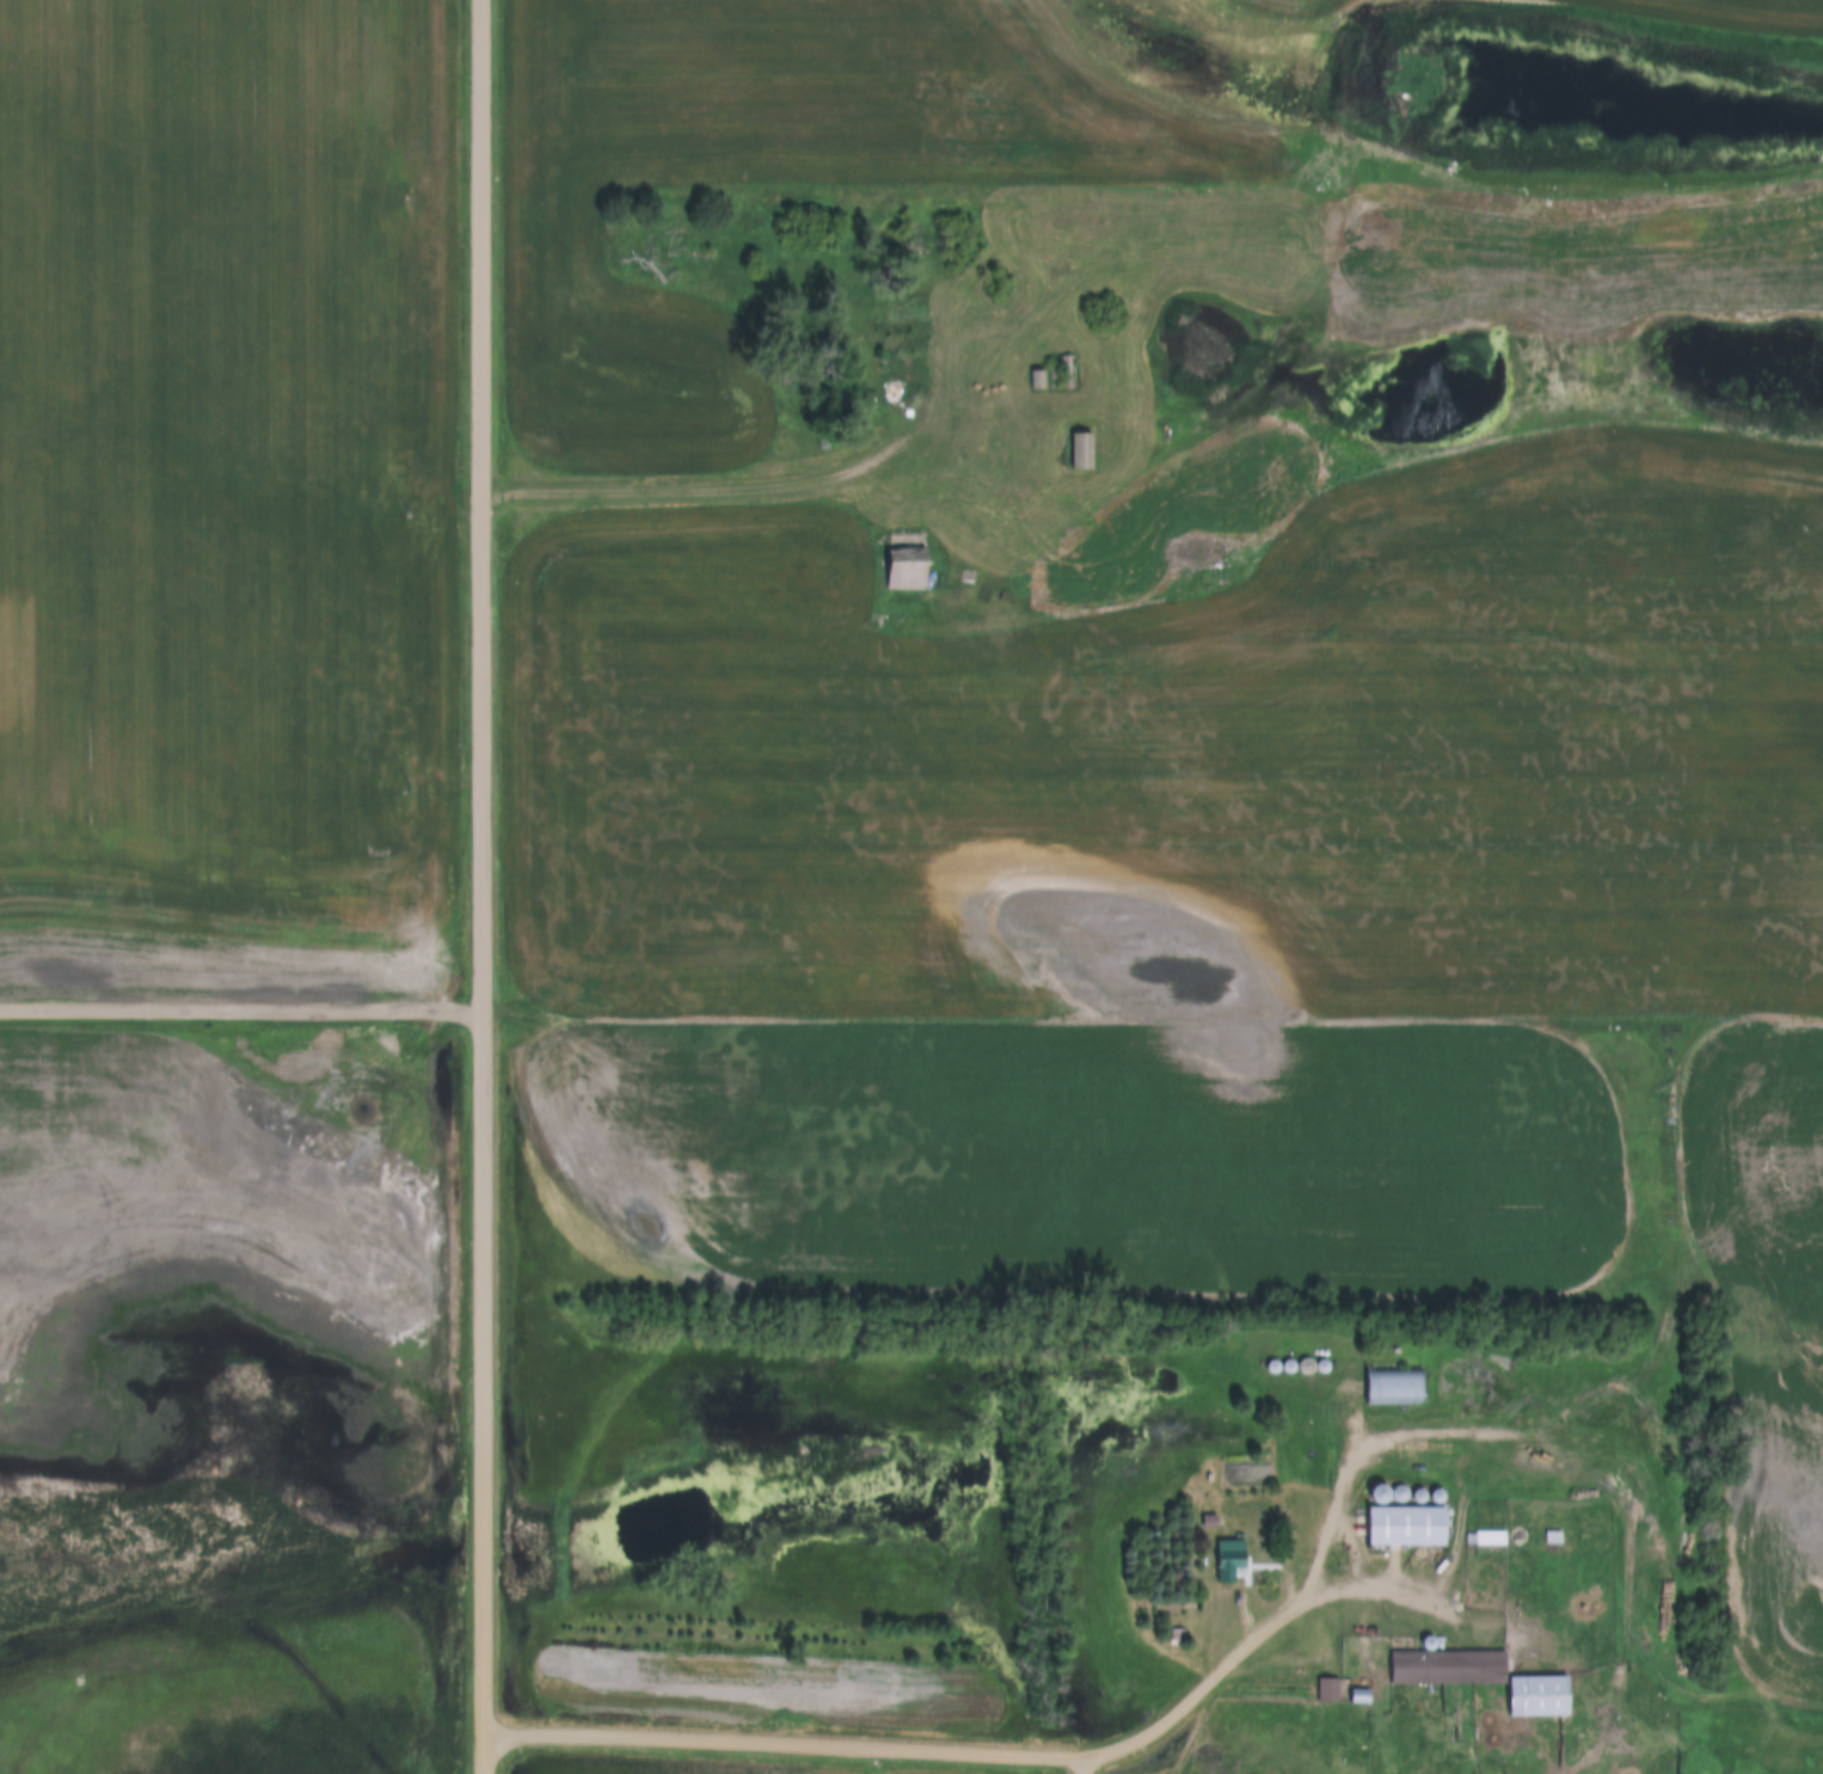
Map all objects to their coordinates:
building: (1081, 454)
road: (729, 493)
building: (901, 551)
road: (478, 886)
road: (239, 1009)
road: (1362, 1453)
building: (1399, 1527)
road: (1627, 1534)
building: (1486, 1541)
building: (1227, 1561)
building: (1475, 1680)
road: (982, 1749)

